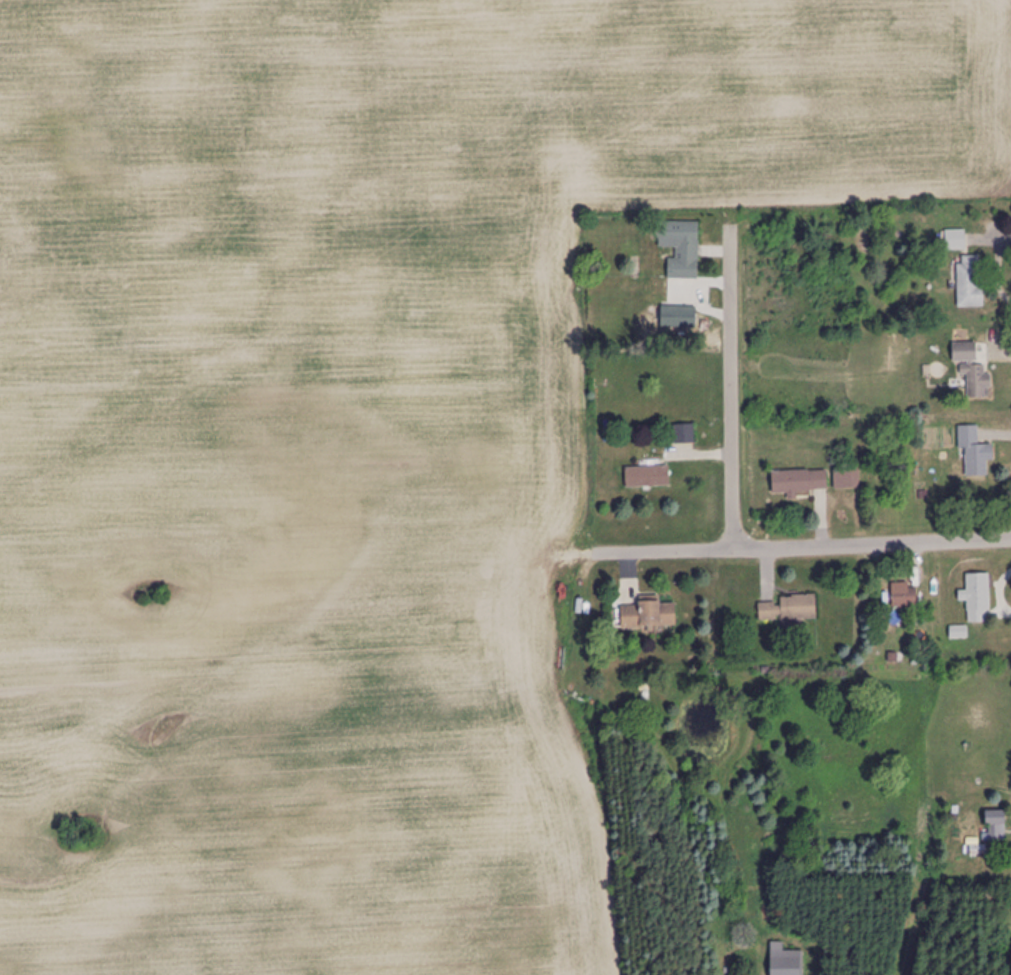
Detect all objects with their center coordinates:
building: (954, 240)
building: (681, 248)
building: (970, 281)
building: (972, 371)
road: (727, 390)
building: (684, 434)
building: (974, 451)
building: (648, 477)
building: (847, 479)
building: (800, 482)
road: (781, 546)
building: (904, 595)
building: (977, 597)
building: (789, 609)
building: (650, 615)
building: (995, 826)
building: (785, 961)

